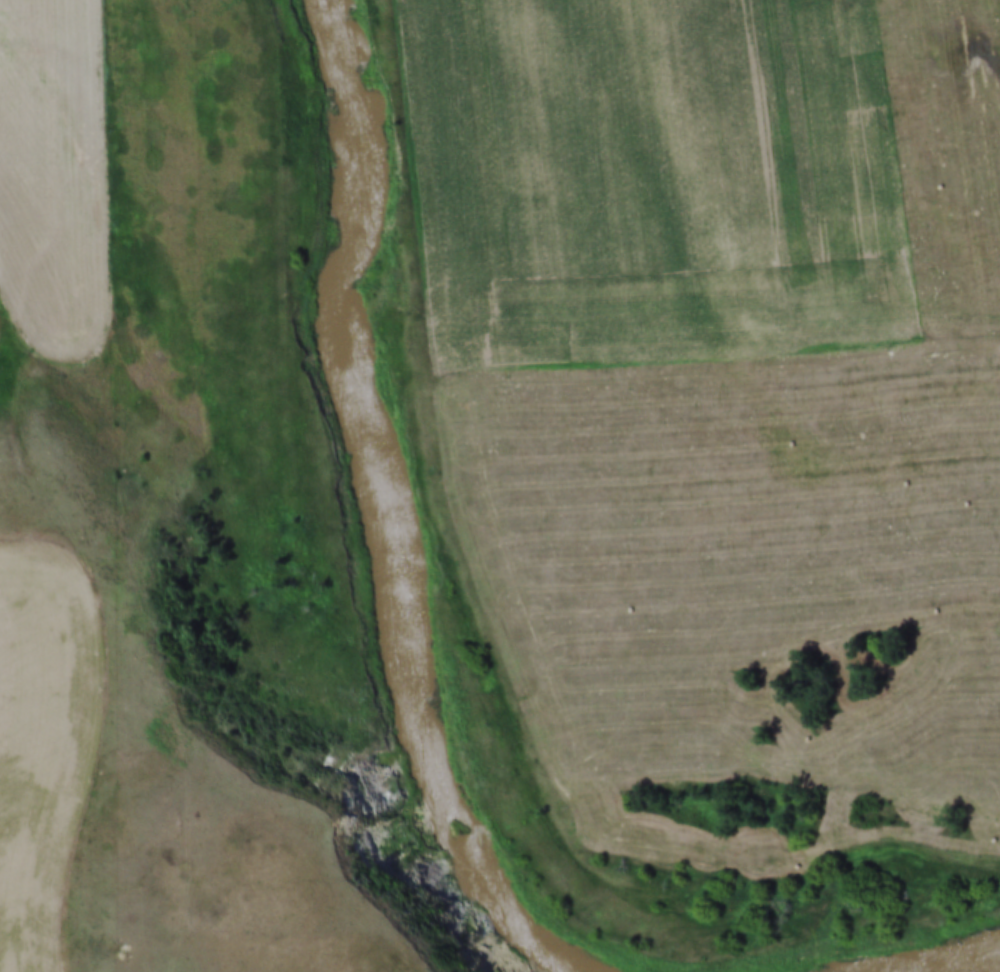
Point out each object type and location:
river: (389, 539)
river: (889, 949)

